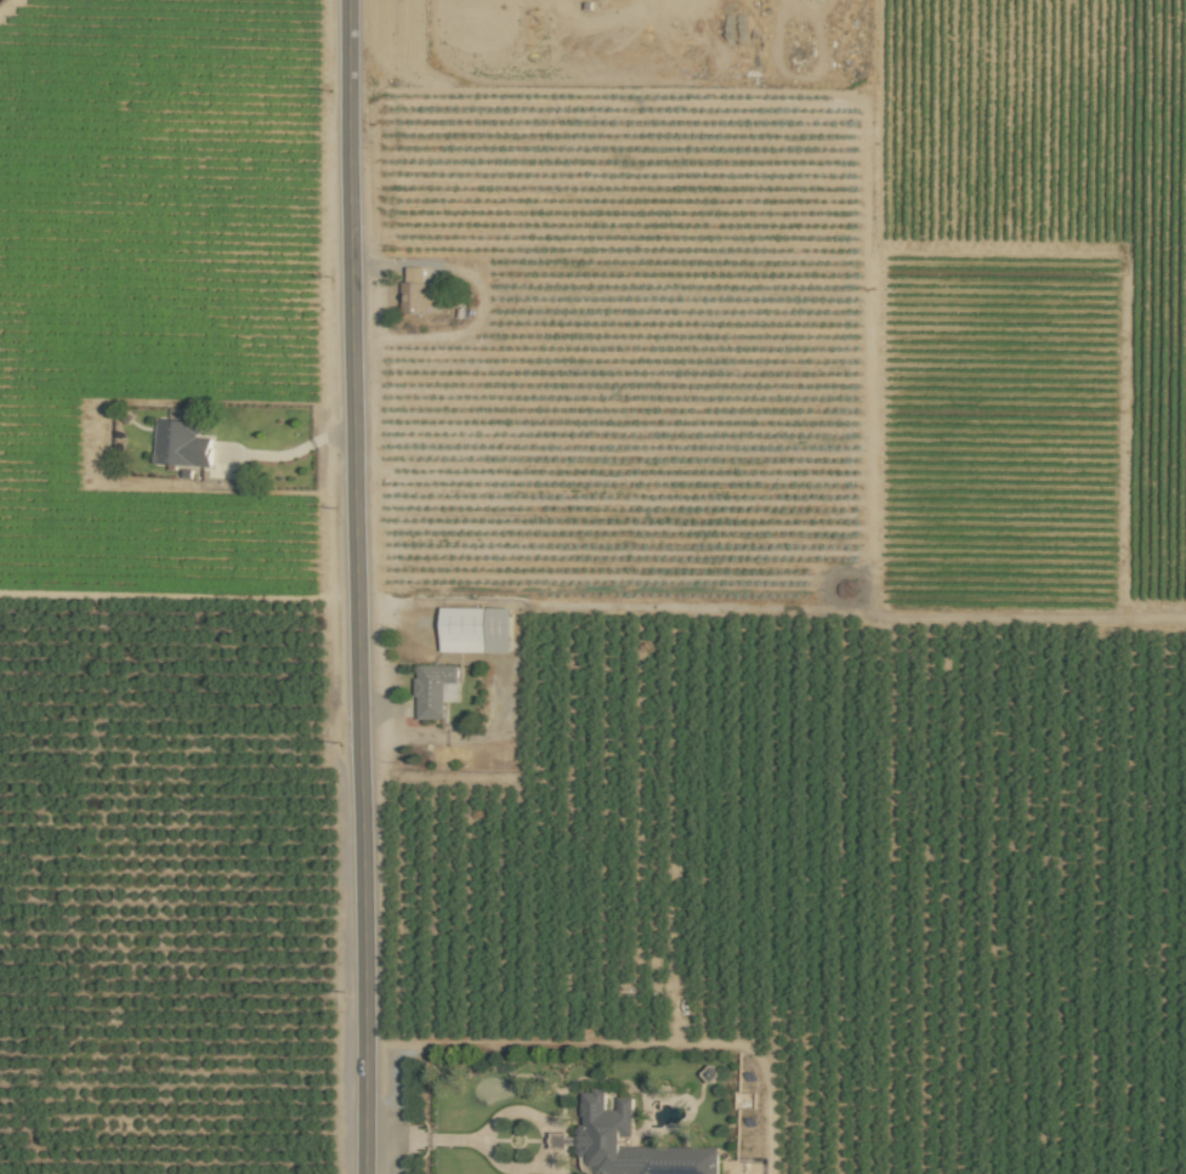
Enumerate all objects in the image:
building: (420, 291)
building: (181, 443)
road: (297, 452)
road: (354, 586)
building: (476, 629)
building: (435, 690)
building: (603, 1130)
road: (424, 1140)
road: (543, 1141)

